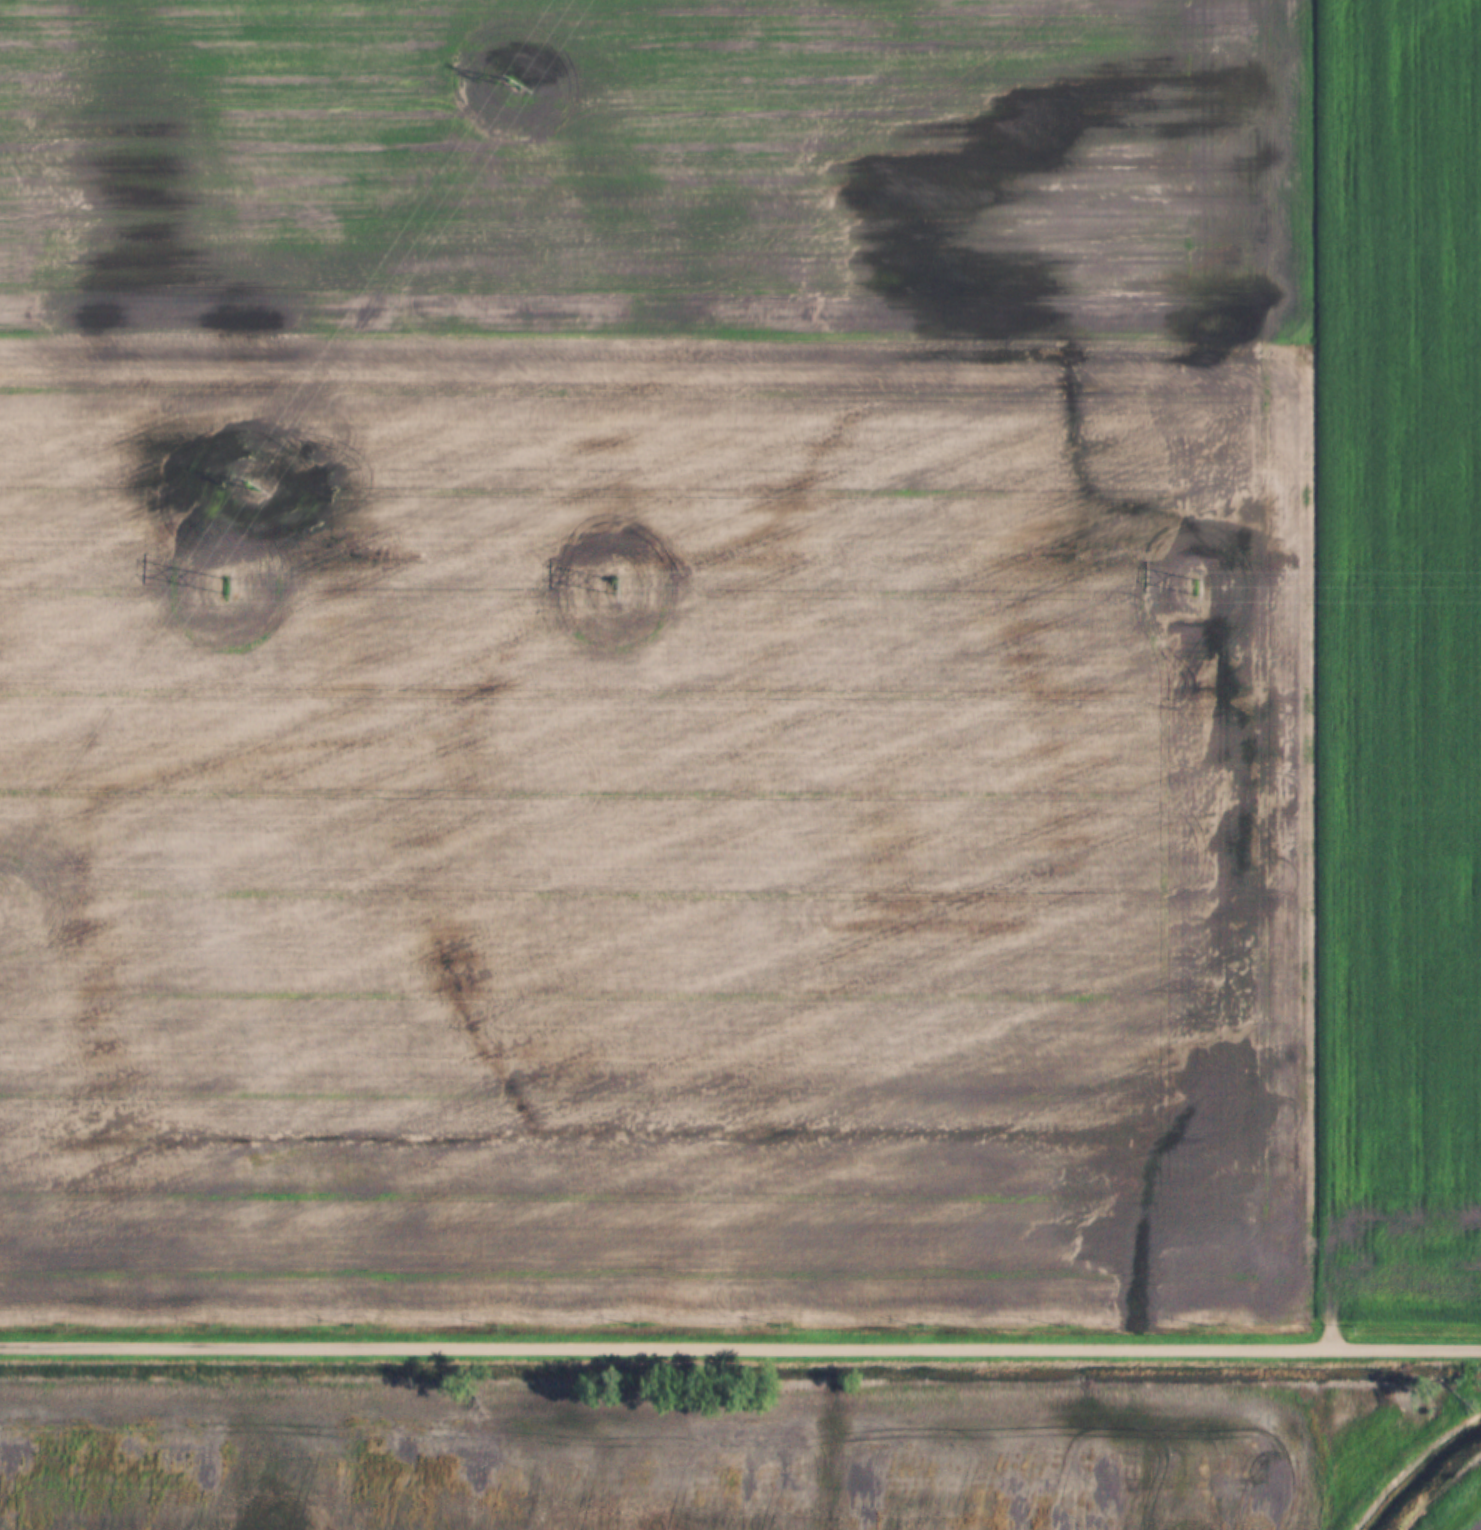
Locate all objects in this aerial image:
power tower: (516, 86)
power tower: (247, 489)
power tower: (223, 587)
power tower: (621, 589)
power tower: (1200, 589)
crop: (741, 657)
road: (740, 1346)
crop: (663, 1459)
crop: (1475, 1524)

